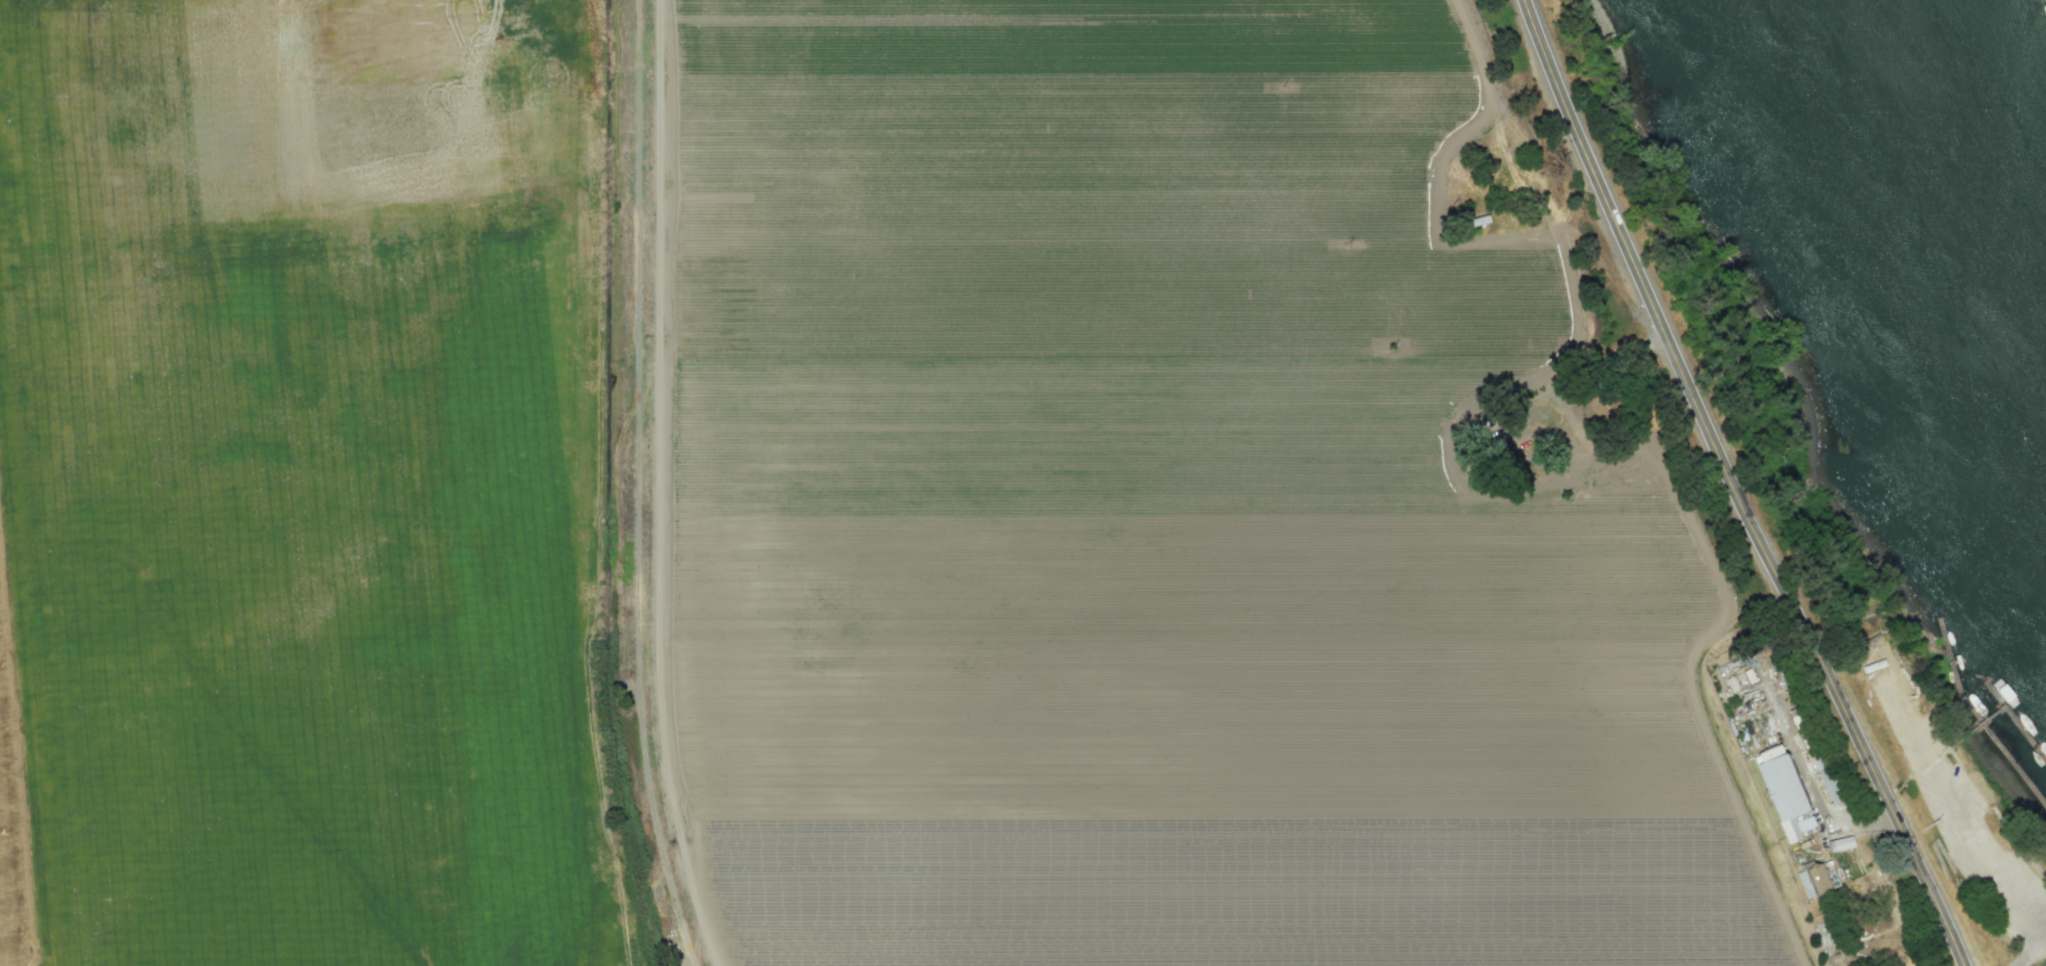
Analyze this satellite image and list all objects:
river: (1927, 206)
road: (1732, 488)
crop: (1153, 512)
pier: (1954, 671)
pier: (2014, 715)
pier: (1953, 742)
pier: (2014, 761)
road: (1802, 771)
building: (1780, 785)
road: (1944, 789)
building: (1812, 880)
road: (1938, 936)
road: (2030, 950)

